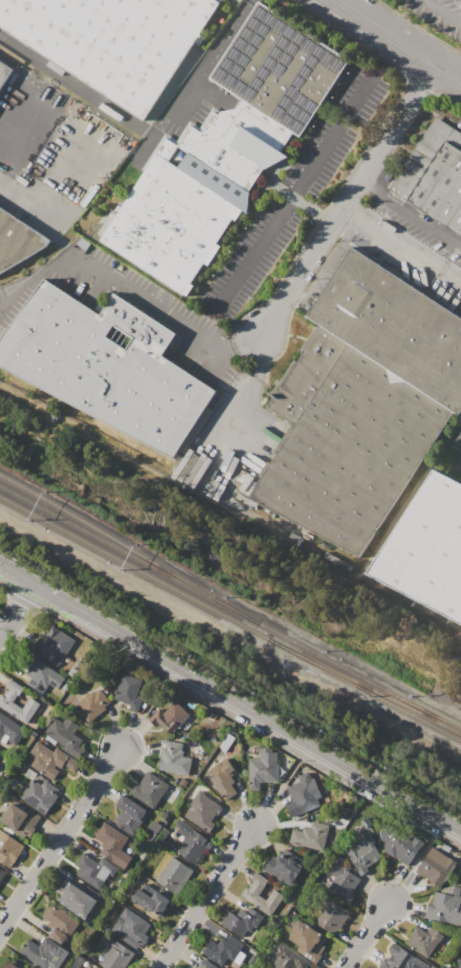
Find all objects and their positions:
road: (442, 12)
parking lot: (438, 14)
road: (418, 26)
road: (224, 37)
building: (112, 40)
road: (398, 41)
building: (4, 74)
road: (420, 85)
road: (184, 96)
road: (444, 98)
road: (375, 131)
road: (330, 133)
road: (22, 144)
building: (226, 148)
road: (53, 167)
building: (434, 177)
road: (347, 200)
road: (31, 206)
road: (311, 208)
road: (410, 214)
building: (17, 241)
road: (401, 247)
road: (251, 252)
road: (112, 277)
road: (304, 287)
road: (242, 341)
road: (257, 357)
road: (216, 360)
building: (105, 365)
building: (361, 403)
road: (224, 425)
railway: (113, 540)
railway: (113, 546)
building: (426, 549)
railway: (110, 554)
road: (17, 575)
road: (48, 594)
road: (16, 611)
road: (83, 614)
railway: (262, 633)
building: (52, 646)
road: (151, 655)
railway: (343, 667)
building: (41, 675)
building: (129, 691)
railway: (382, 693)
railway: (382, 696)
building: (7, 699)
building: (89, 707)
road: (147, 708)
building: (170, 717)
building: (9, 731)
building: (65, 735)
building: (174, 758)
road: (329, 758)
building: (50, 760)
building: (264, 767)
building: (222, 779)
road: (281, 786)
building: (149, 790)
building: (39, 795)
building: (303, 795)
building: (202, 810)
building: (128, 814)
building: (21, 820)
building: (151, 831)
building: (307, 833)
building: (162, 835)
road: (60, 838)
building: (191, 843)
building: (112, 844)
building: (156, 846)
building: (401, 847)
building: (8, 848)
building: (362, 853)
road: (415, 862)
building: (435, 866)
building: (284, 867)
building: (94, 870)
building: (2, 873)
building: (173, 876)
building: (342, 880)
building: (276, 894)
road: (207, 897)
building: (78, 899)
building: (150, 899)
building: (444, 909)
building: (332, 917)
building: (60, 919)
building: (241, 921)
building: (130, 928)
road: (366, 935)
building: (307, 940)
building: (423, 940)
building: (222, 949)
building: (44, 953)
building: (115, 953)
building: (287, 958)
building: (400, 959)
building: (206, 964)
building: (459, 964)
building: (11, 965)
building: (88, 966)
building: (189, 967)
building: (449, 967)

